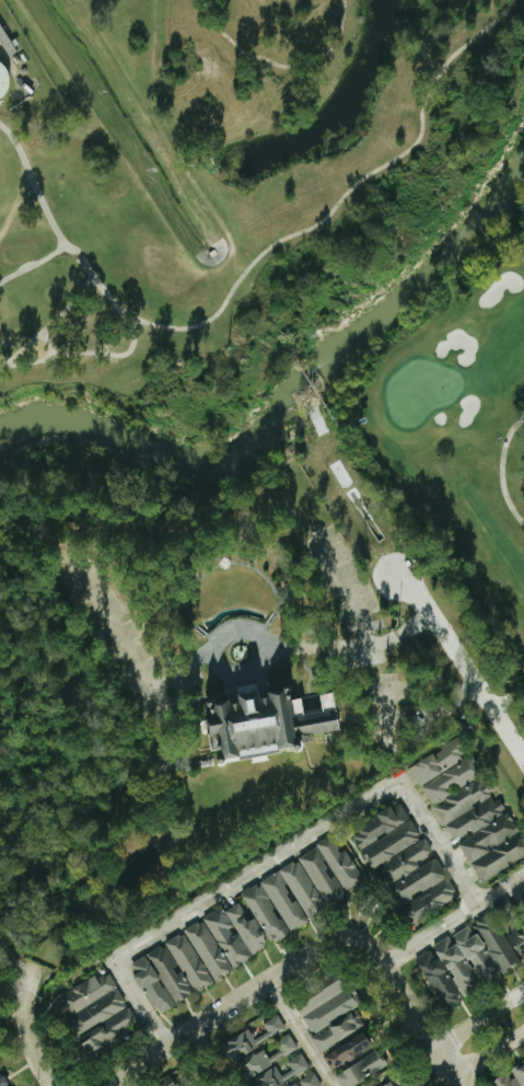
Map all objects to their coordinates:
road: (278, 55)
building: (5, 81)
road: (251, 265)
park: (419, 390)
river: (299, 396)
park: (462, 434)
road: (501, 469)
road: (350, 586)
road: (211, 652)
road: (471, 681)
road: (513, 694)
building: (272, 723)
road: (407, 740)
building: (471, 809)
building: (388, 835)
road: (273, 860)
building: (407, 862)
building: (333, 870)
building: (426, 892)
building: (287, 901)
road: (453, 921)
building: (240, 934)
building: (517, 937)
building: (211, 950)
building: (479, 952)
road: (293, 966)
building: (174, 973)
building: (442, 981)
building: (329, 1006)
building: (100, 1013)
road: (477, 1024)
road: (26, 1027)
building: (340, 1031)
road: (299, 1033)
building: (264, 1048)
building: (350, 1051)
road: (486, 1056)
building: (302, 1068)
building: (362, 1071)
road: (450, 1075)
building: (3, 1077)
building: (513, 1078)
building: (312, 1081)
building: (170, 1082)
building: (411, 1083)
building: (392, 1084)

